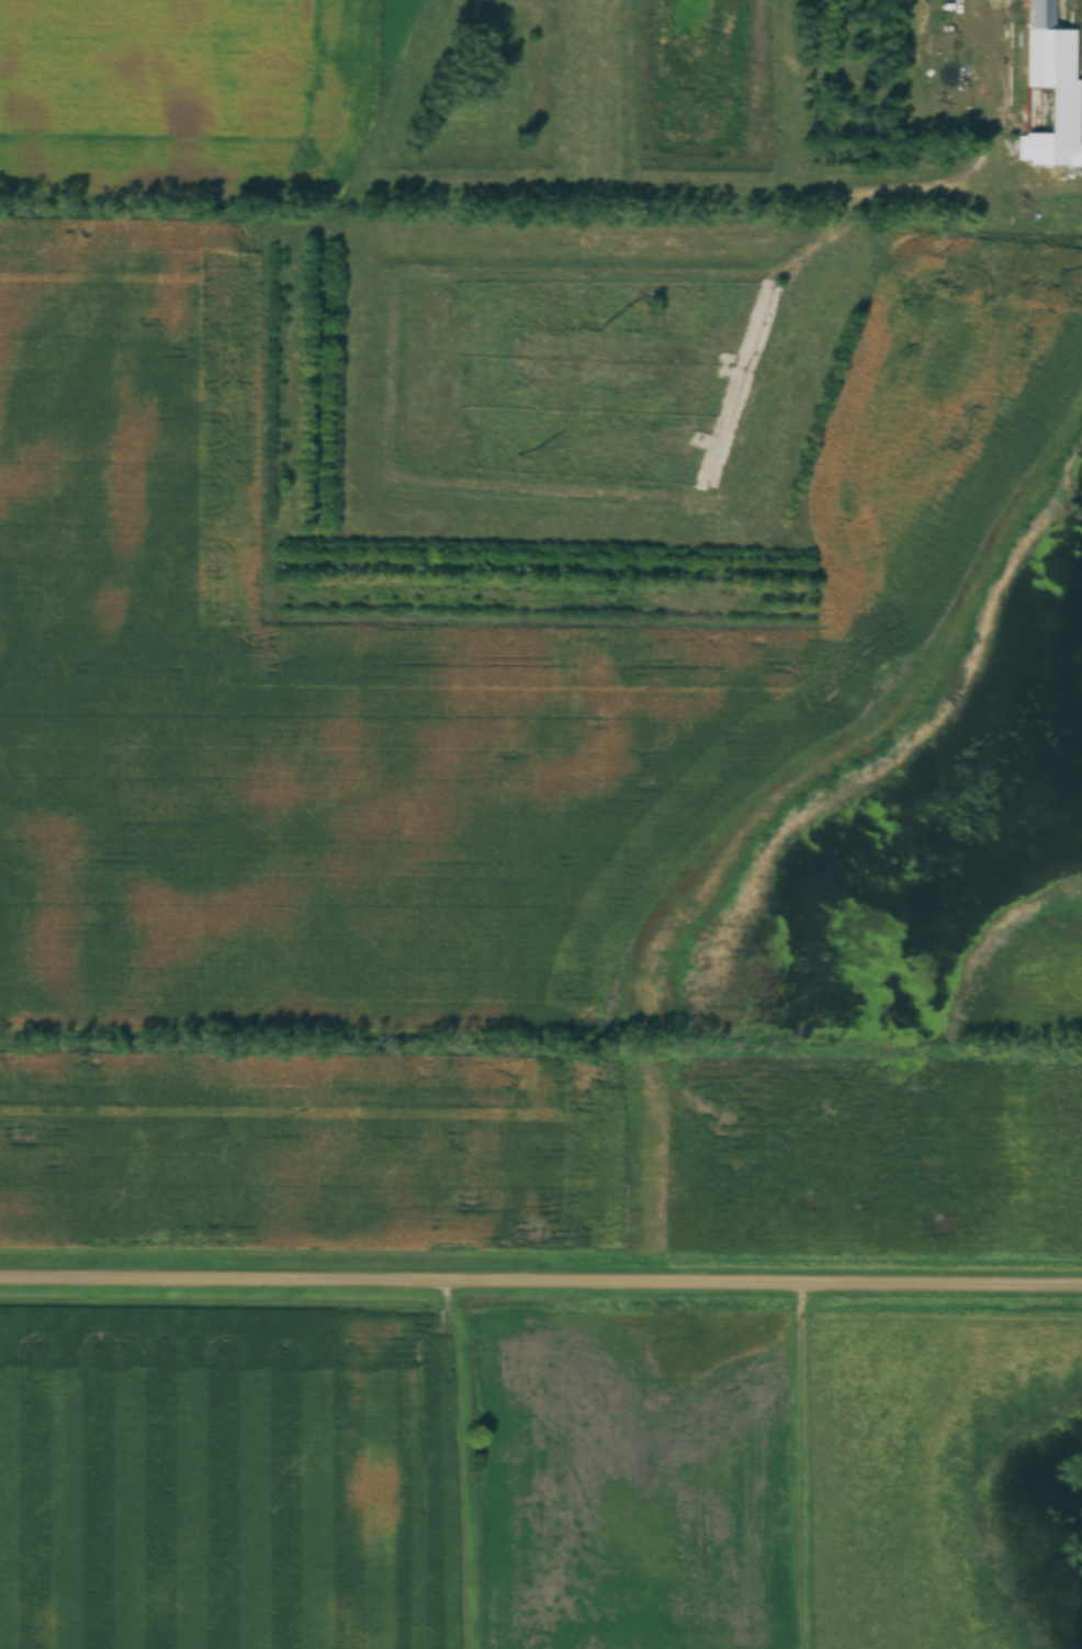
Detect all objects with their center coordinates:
building: (1048, 92)
road: (541, 1289)
road: (793, 1470)

